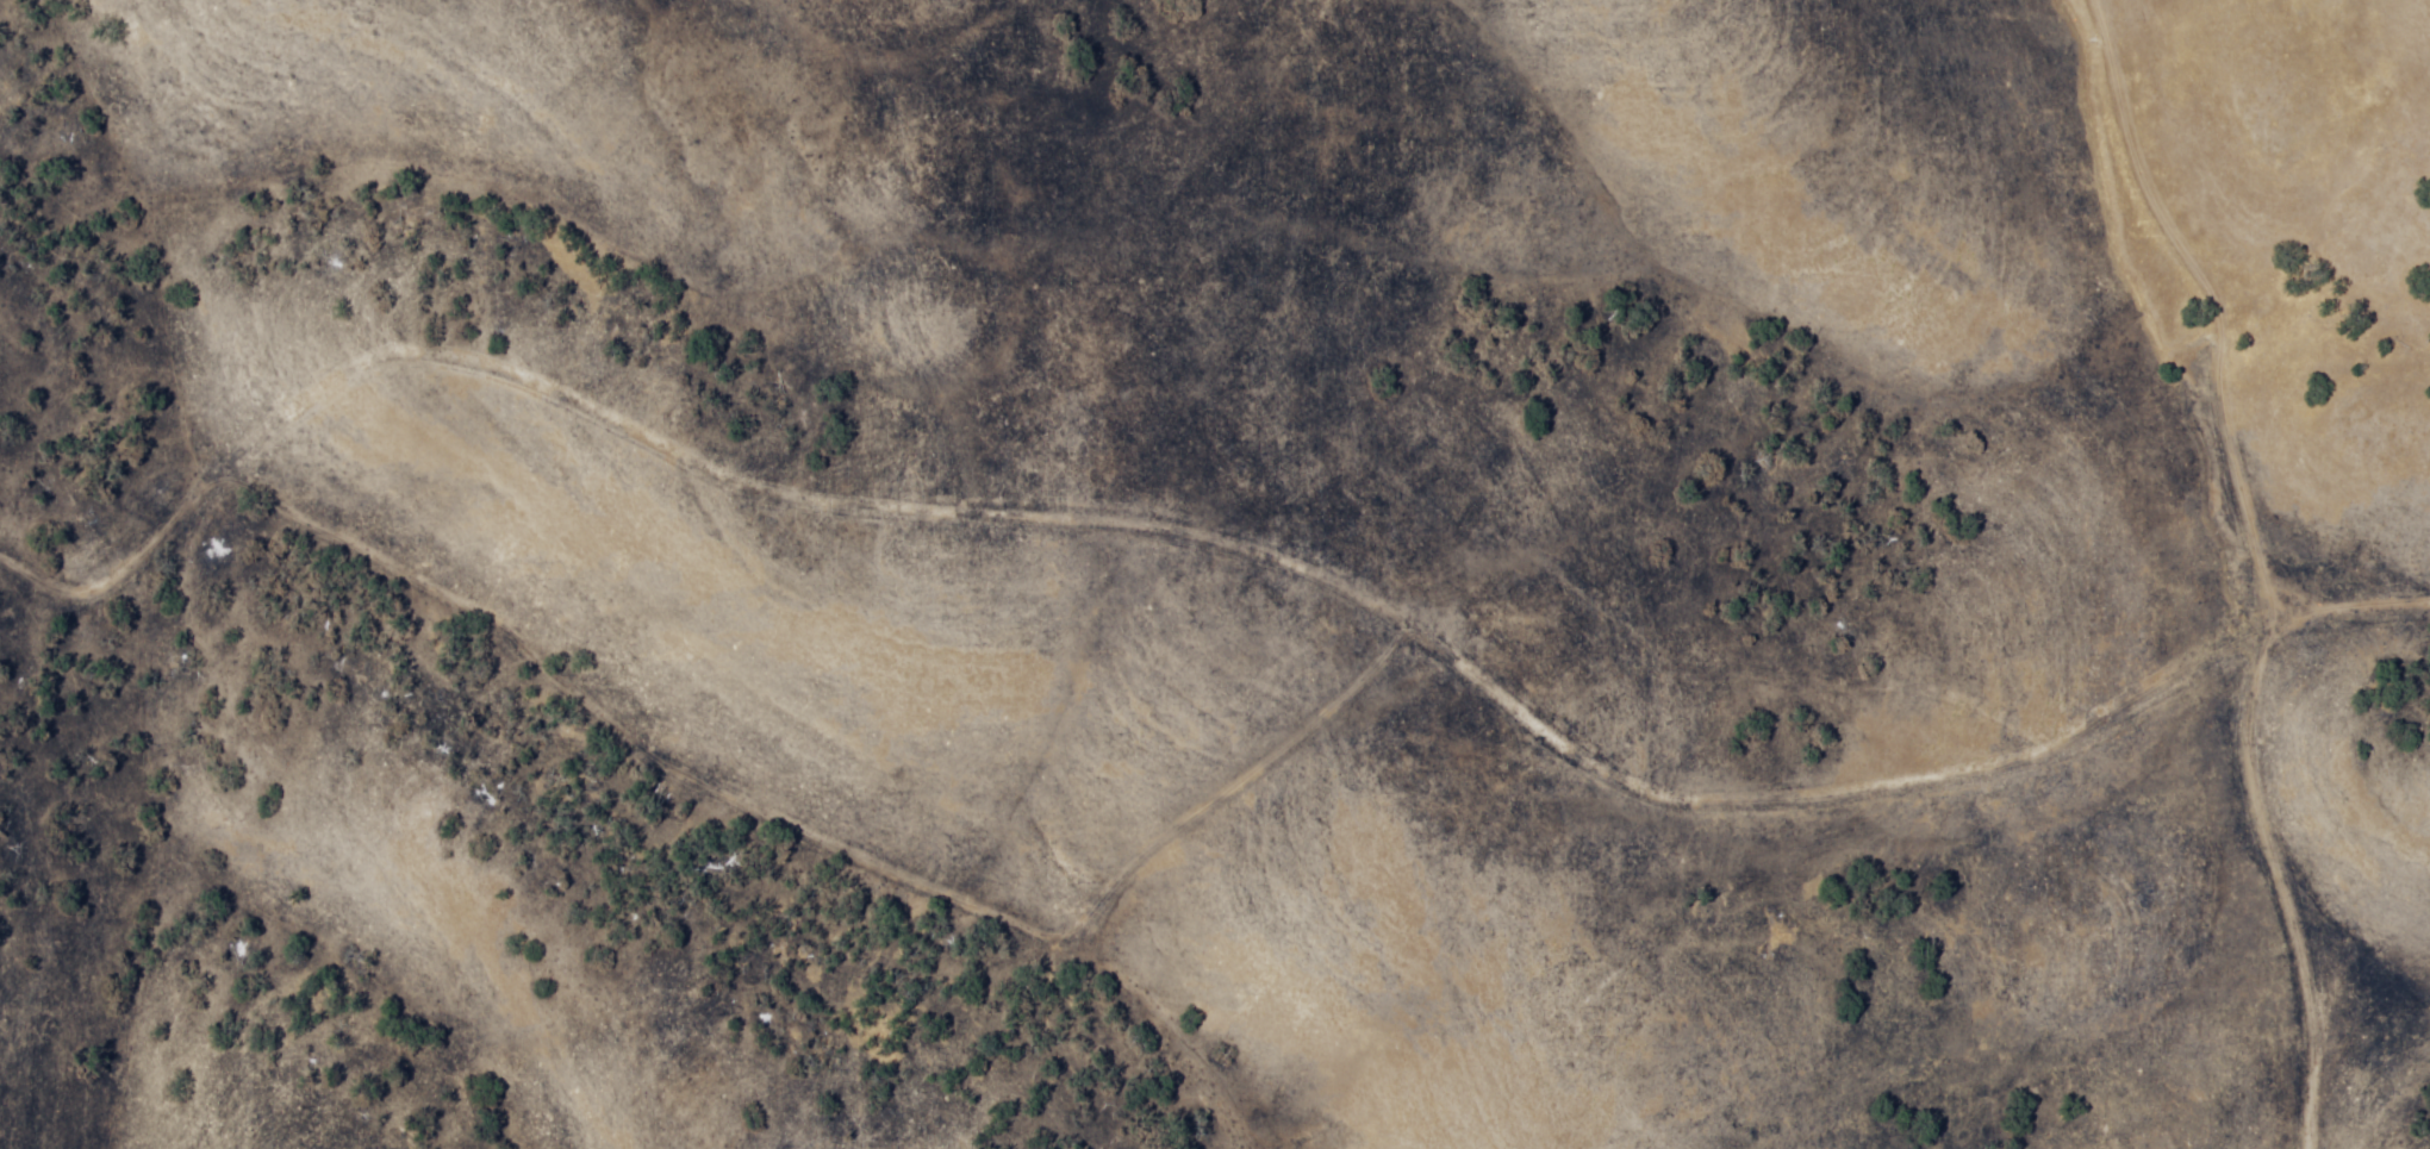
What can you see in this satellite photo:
road: (2244, 562)
road: (2344, 602)
road: (373, 785)
road: (1828, 873)

